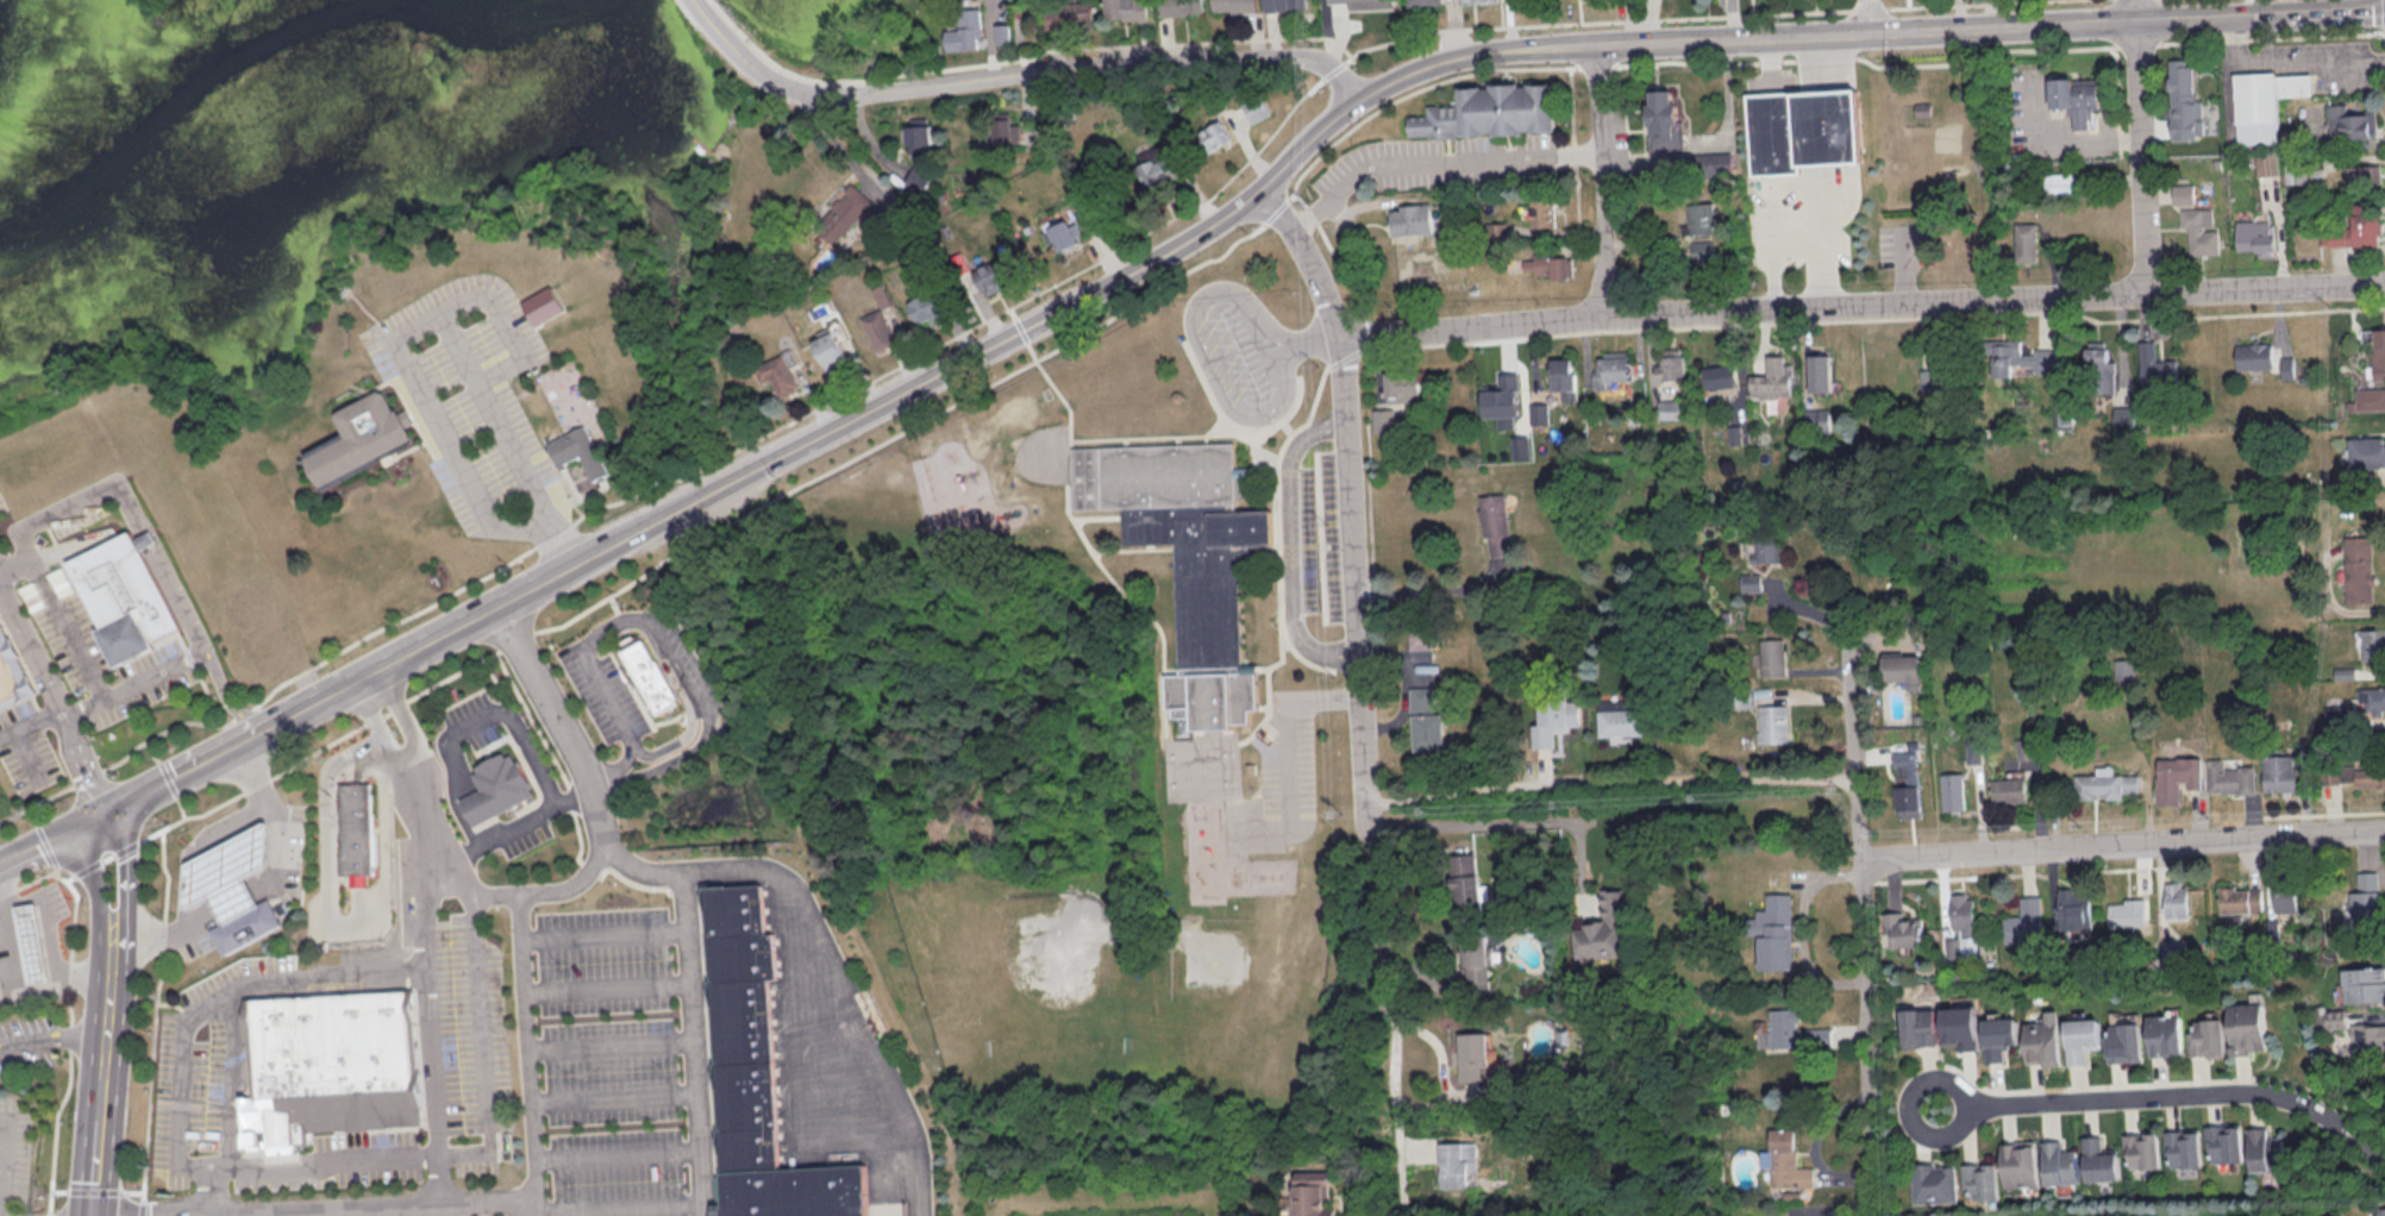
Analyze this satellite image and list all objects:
building: (1483, 0)
building: (1429, 1)
building: (1285, 4)
building: (1235, 5)
building: (1184, 6)
building: (1127, 8)
road: (2253, 8)
road: (703, 10)
building: (1087, 10)
road: (724, 12)
building: (1062, 15)
road: (1870, 15)
road: (2128, 23)
building: (965, 30)
road: (1736, 37)
road: (1037, 54)
road: (1477, 55)
road: (1031, 71)
building: (2077, 99)
building: (2184, 101)
building: (2265, 101)
building: (1257, 107)
building: (1490, 109)
building: (1924, 109)
building: (1664, 119)
river: (293, 120)
building: (2350, 121)
building: (1009, 125)
building: (1807, 126)
building: (1217, 134)
building: (920, 136)
road: (2065, 140)
road: (1308, 142)
road: (2148, 146)
road: (1248, 150)
road: (1433, 161)
building: (1713, 162)
park: (1873, 167)
building: (1157, 170)
building: (2362, 174)
road: (1600, 180)
building: (919, 181)
building: (2183, 193)
building: (849, 212)
building: (1542, 213)
building: (1411, 218)
building: (1699, 219)
building: (2358, 225)
building: (2201, 230)
building: (1066, 232)
building: (2256, 236)
building: (2027, 240)
parking lot: (1904, 245)
building: (1701, 250)
building: (1548, 265)
road: (1903, 267)
building: (990, 277)
building: (544, 303)
road: (1860, 306)
building: (927, 307)
road: (999, 311)
road: (371, 313)
road: (419, 322)
road: (508, 326)
park: (650, 328)
building: (878, 328)
road: (1309, 334)
building: (831, 349)
road: (1202, 349)
building: (2378, 351)
building: (2254, 355)
building: (2020, 358)
building: (1670, 364)
building: (2286, 365)
building: (2099, 366)
building: (2155, 366)
building: (1611, 368)
building: (1820, 371)
building: (780, 372)
building: (1720, 375)
building: (1563, 376)
building: (1773, 377)
road: (906, 388)
building: (1395, 399)
building: (1502, 399)
building: (1667, 408)
building: (2123, 413)
building: (2064, 415)
building: (1735, 433)
building: (362, 441)
building: (1521, 446)
building: (2367, 451)
building: (580, 452)
building: (1494, 522)
road: (1288, 543)
building: (1765, 549)
building: (1189, 559)
building: (2358, 566)
building: (1151, 568)
building: (1751, 581)
road: (1426, 590)
building: (123, 600)
road: (57, 615)
road: (658, 625)
road: (455, 626)
building: (2373, 644)
building: (1772, 656)
road: (193, 663)
building: (1902, 667)
building: (2123, 669)
building: (12, 671)
building: (651, 679)
road: (1164, 683)
road: (131, 685)
road: (1360, 691)
road: (223, 695)
road: (326, 695)
road: (55, 697)
building: (2372, 698)
building: (1554, 719)
road: (31, 720)
building: (1426, 720)
building: (1623, 721)
building: (1773, 722)
building: (2024, 747)
road: (1287, 748)
building: (1972, 751)
road: (25, 756)
road: (192, 765)
building: (2279, 771)
building: (2354, 772)
road: (165, 776)
building: (2176, 776)
building: (2229, 776)
building: (1907, 783)
building: (2104, 783)
road: (1608, 785)
building: (2008, 789)
building: (496, 790)
building: (1952, 790)
road: (10, 817)
traffic signals: (98, 819)
road: (276, 819)
park: (12, 821)
road: (1497, 822)
road: (511, 825)
road: (161, 827)
building: (355, 832)
road: (44, 839)
road: (49, 841)
road: (2121, 842)
road: (434, 867)
building: (227, 872)
gas station: (227, 872)
building: (1466, 875)
road: (676, 878)
building: (2284, 895)
building: (2178, 898)
building: (2241, 898)
building: (2365, 898)
road: (234, 900)
building: (1961, 910)
building: (2074, 910)
building: (2128, 911)
building: (2023, 921)
road: (1860, 923)
building: (245, 924)
road: (112, 927)
building: (1605, 928)
building: (1902, 929)
building: (1773, 930)
road: (163, 932)
building: (33, 941)
gas station: (33, 941)
building: (2176, 947)
building: (1479, 960)
building: (2364, 984)
road: (21, 986)
road: (839, 999)
road: (175, 1002)
road: (70, 1010)
building: (2337, 1017)
road: (155, 1021)
building: (1920, 1026)
building: (1960, 1026)
building: (2249, 1027)
building: (2370, 1029)
building: (1794, 1032)
building: (2167, 1035)
building: (2001, 1036)
building: (2209, 1036)
building: (2083, 1038)
road: (52, 1039)
building: (2045, 1039)
building: (2127, 1040)
building: (1473, 1054)
building: (332, 1066)
building: (755, 1077)
road: (100, 1085)
road: (2190, 1093)
road: (1909, 1108)
building: (2224, 1142)
building: (2183, 1147)
building: (2142, 1149)
building: (2264, 1149)
building: (2099, 1159)
building: (1785, 1160)
building: (1458, 1161)
building: (2020, 1162)
building: (2059, 1162)
road: (212, 1167)
road: (94, 1174)
road: (434, 1179)
building: (1980, 1179)
building: (1934, 1181)
road: (96, 1190)
road: (209, 1190)
building: (1313, 1193)
road: (509, 1198)
road: (521, 1206)
building: (2384, 1210)
road: (212, 1215)

